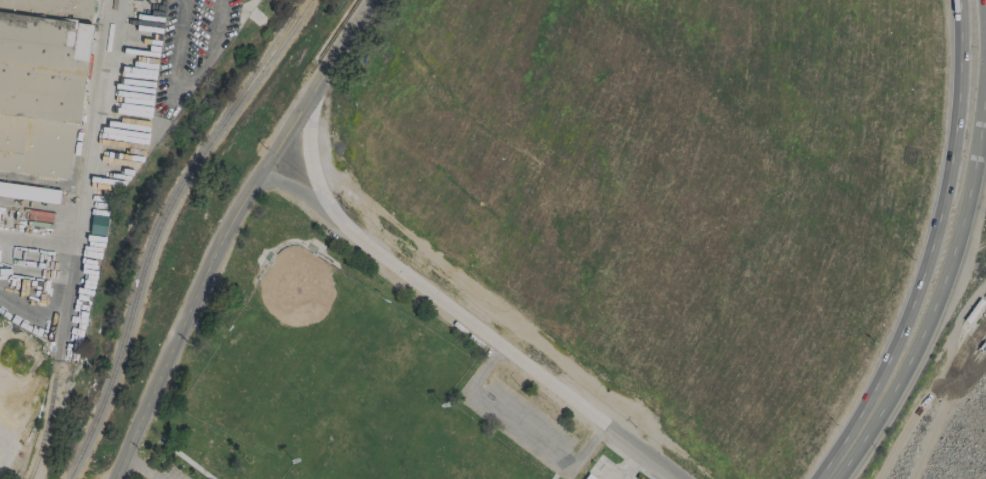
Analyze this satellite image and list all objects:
railway: (277, 44)
building: (41, 83)
road: (190, 87)
road: (954, 134)
building: (29, 193)
building: (97, 224)
road: (226, 231)
railway: (73, 240)
road: (32, 244)
railway: (141, 275)
road: (940, 289)
road: (27, 295)
road: (469, 323)
road: (880, 372)
park: (345, 379)
road: (935, 380)
park: (334, 392)
parking lot: (522, 426)
road: (521, 427)
landfill: (953, 431)
road: (5, 448)
road: (627, 464)
road: (137, 468)
parking lot: (168, 472)
road: (826, 477)
building: (588, 478)

